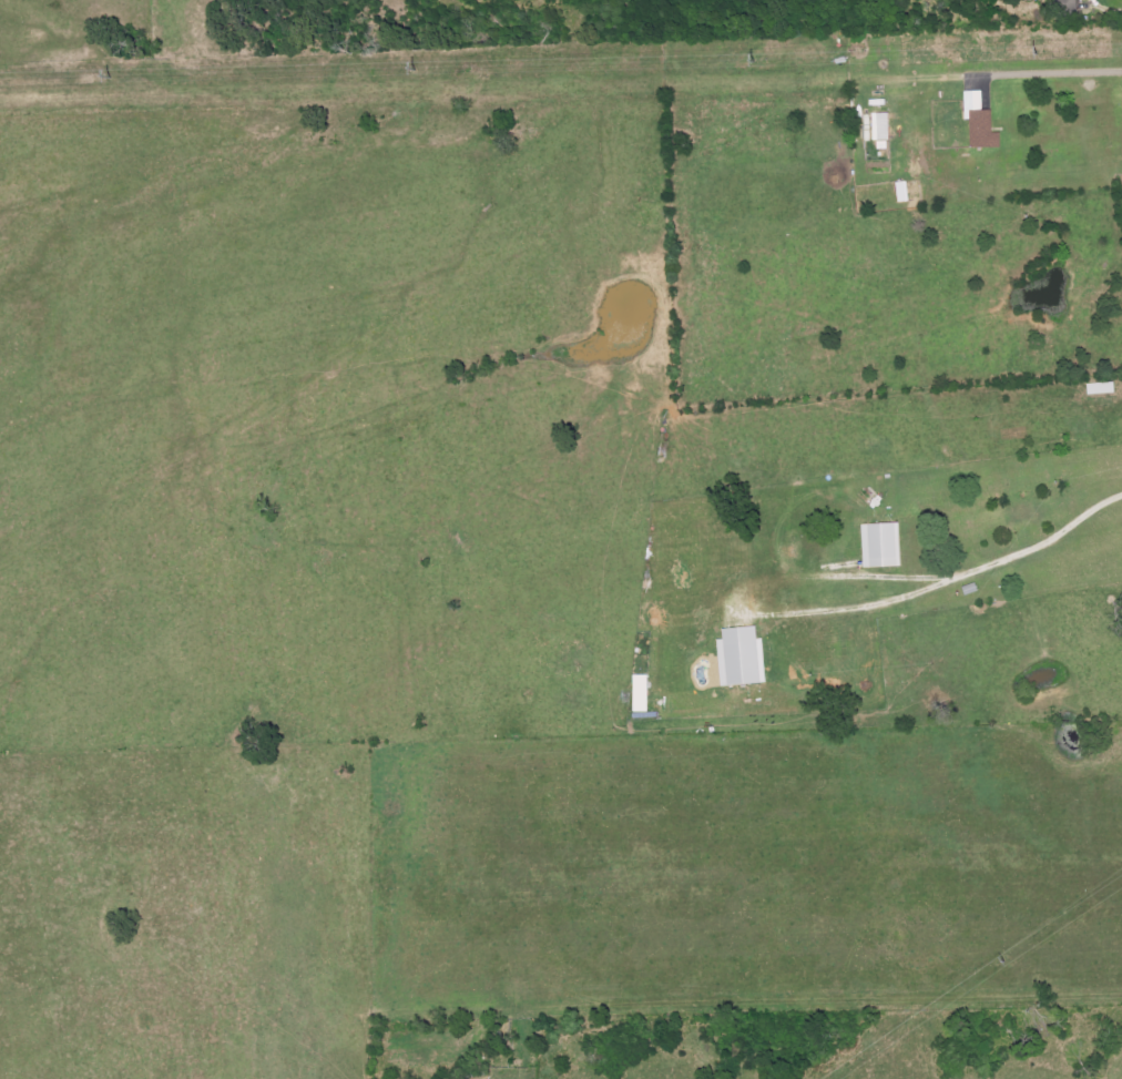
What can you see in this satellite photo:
building: (1067, 10)
power tower: (1038, 51)
power tower: (743, 62)
power tower: (404, 69)
power tower: (100, 78)
building: (978, 122)
building: (875, 125)
building: (879, 546)
building: (738, 658)
power tower: (1004, 961)

